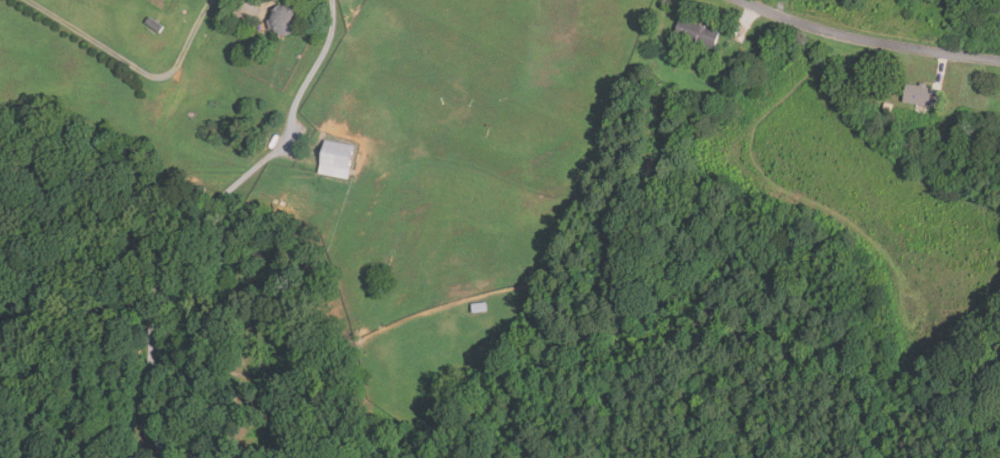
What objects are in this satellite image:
road: (244, 2)
building: (283, 20)
building: (154, 25)
building: (697, 34)
road: (868, 44)
road: (126, 67)
building: (920, 95)
building: (336, 159)
building: (647, 174)
road: (201, 217)
building: (480, 308)

